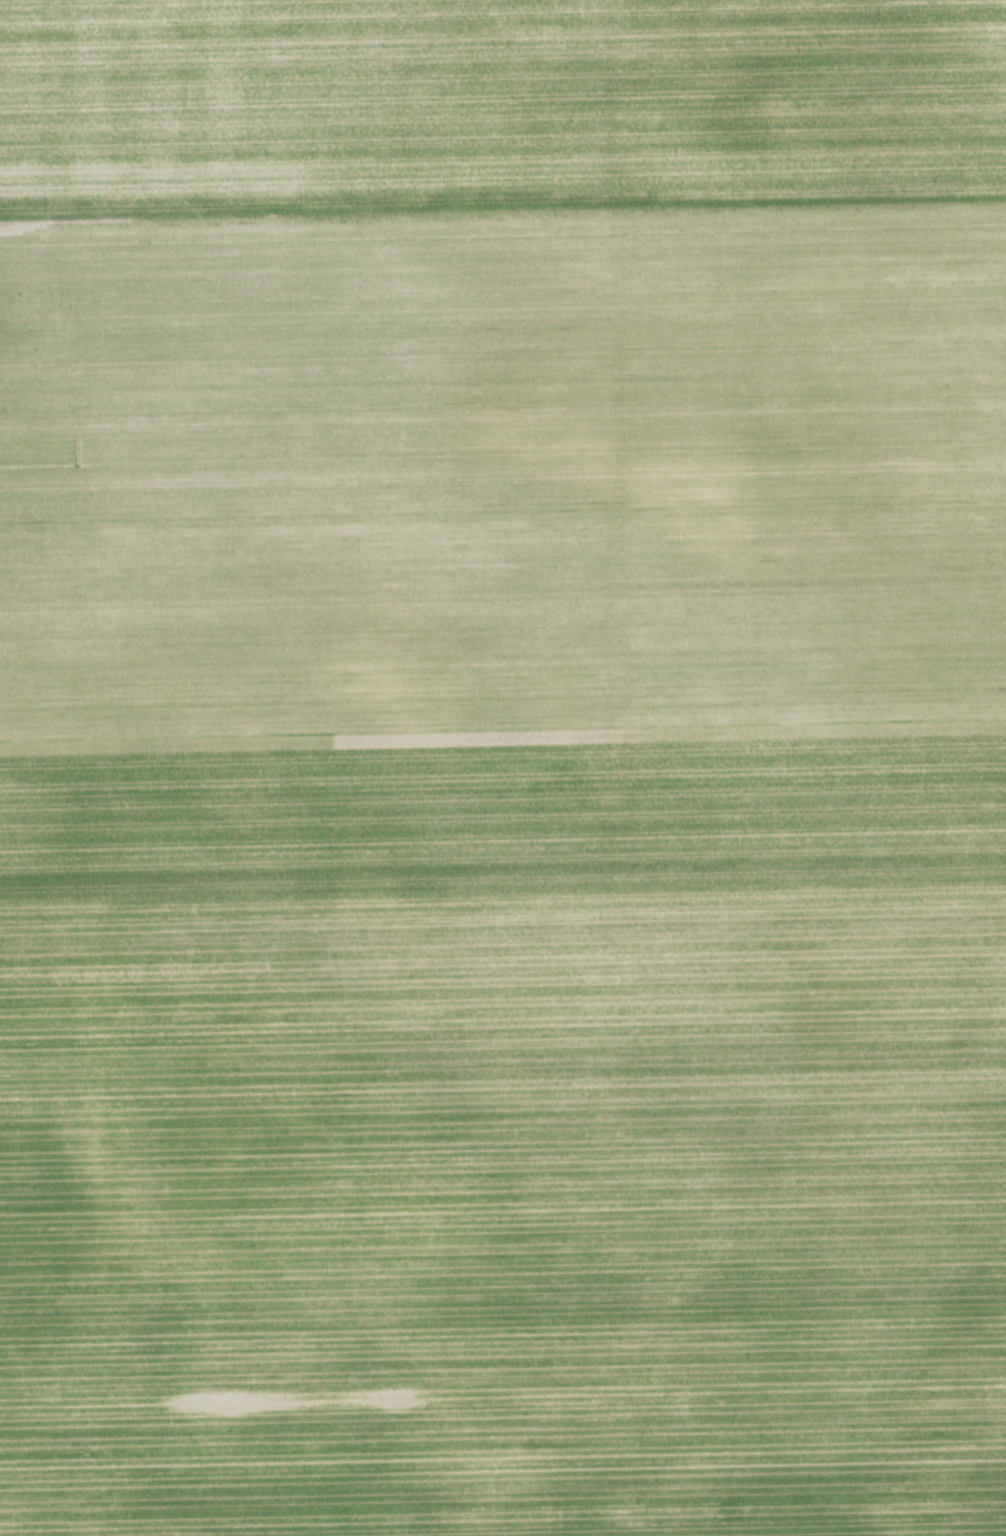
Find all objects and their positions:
crop: (503, 768)

